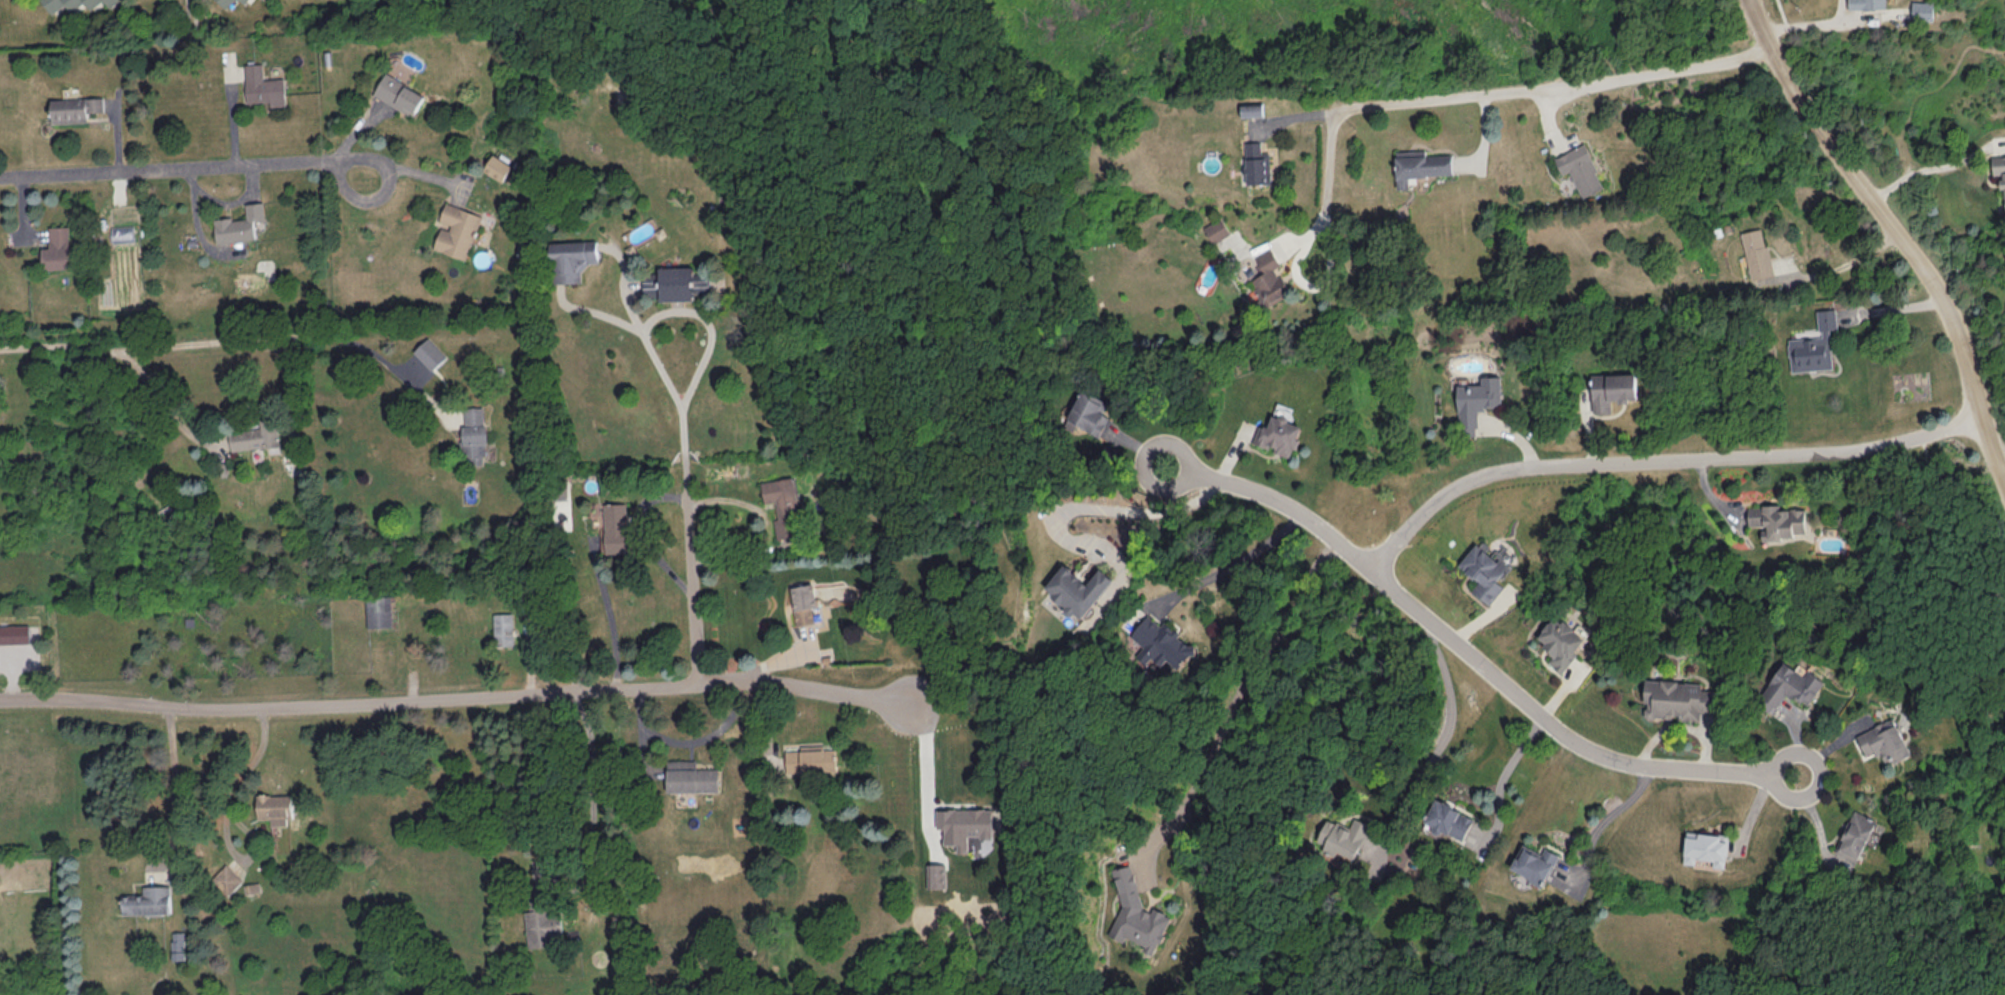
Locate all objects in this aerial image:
building: (243, 0)
building: (108, 1)
building: (224, 2)
building: (68, 3)
building: (1922, 9)
road: (1809, 23)
road: (1680, 68)
building: (263, 86)
building: (398, 94)
road: (1407, 105)
building: (74, 108)
building: (1251, 109)
building: (1256, 164)
road: (400, 165)
building: (1419, 165)
building: (497, 167)
building: (1999, 168)
building: (1580, 169)
road: (174, 171)
road: (1920, 172)
building: (240, 224)
building: (1217, 229)
building: (456, 230)
building: (122, 232)
road: (1898, 236)
building: (57, 248)
building: (1756, 252)
building: (571, 259)
road: (1849, 263)
building: (1269, 279)
building: (675, 284)
road: (1312, 287)
road: (648, 319)
road: (182, 340)
building: (1814, 345)
building: (429, 353)
road: (407, 382)
building: (1612, 389)
road: (164, 397)
building: (1477, 401)
building: (1089, 413)
building: (256, 435)
building: (472, 435)
building: (1280, 435)
road: (1659, 460)
road: (2000, 462)
building: (783, 505)
road: (1107, 509)
building: (1777, 520)
road: (769, 526)
building: (617, 528)
road: (642, 535)
road: (1233, 566)
building: (1486, 570)
road: (692, 571)
building: (1076, 589)
building: (805, 604)
building: (377, 611)
building: (502, 628)
building: (14, 633)
building: (1562, 641)
building: (1161, 642)
road: (1467, 655)
road: (1246, 681)
building: (1792, 685)
road: (454, 698)
building: (1676, 699)
road: (1445, 737)
road: (689, 740)
building: (1885, 740)
building: (812, 759)
road: (1503, 767)
road: (927, 769)
building: (690, 776)
road: (175, 785)
building: (276, 807)
road: (225, 814)
building: (1448, 819)
road: (1602, 819)
building: (965, 825)
road: (593, 834)
building: (1855, 835)
building: (1344, 836)
building: (1705, 847)
building: (1534, 863)
building: (936, 875)
building: (226, 879)
building: (148, 900)
building: (1137, 913)
building: (543, 927)
building: (178, 945)

